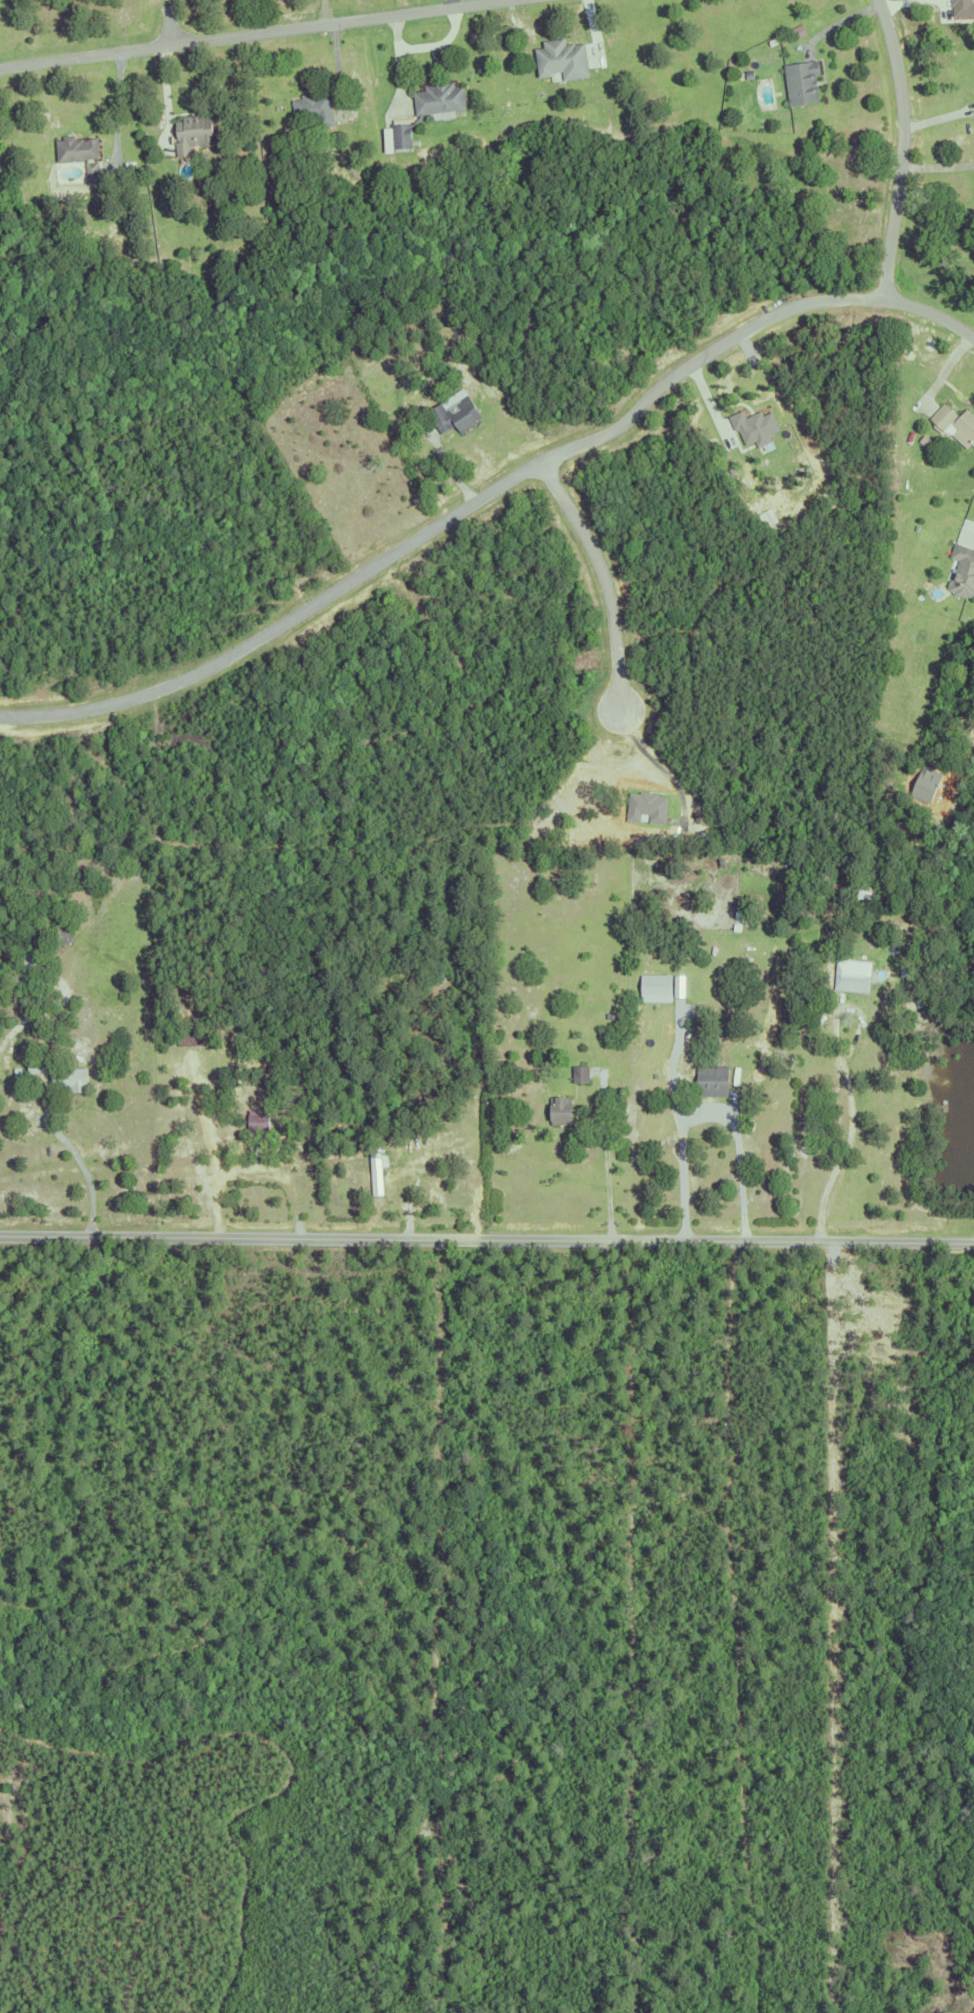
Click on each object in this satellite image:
building: (963, 10)
road: (324, 12)
road: (247, 34)
building: (566, 60)
building: (747, 73)
building: (799, 81)
building: (437, 96)
road: (118, 106)
building: (312, 107)
building: (191, 132)
building: (402, 139)
road: (898, 146)
building: (74, 147)
road: (935, 163)
road: (926, 319)
building: (459, 414)
building: (955, 423)
building: (758, 428)
building: (922, 439)
road: (446, 520)
building: (962, 570)
road: (605, 580)
building: (721, 860)
building: (836, 887)
building: (741, 921)
building: (666, 966)
building: (851, 975)
building: (403, 982)
building: (660, 988)
road: (17, 1022)
building: (37, 1034)
building: (603, 1034)
building: (192, 1038)
building: (22, 1042)
building: (38, 1062)
building: (267, 1067)
building: (579, 1074)
building: (69, 1081)
building: (710, 1081)
building: (559, 1111)
building: (256, 1122)
road: (849, 1128)
road: (66, 1142)
road: (211, 1147)
road: (682, 1154)
road: (607, 1157)
building: (375, 1167)
road: (739, 1169)
road: (487, 1241)

